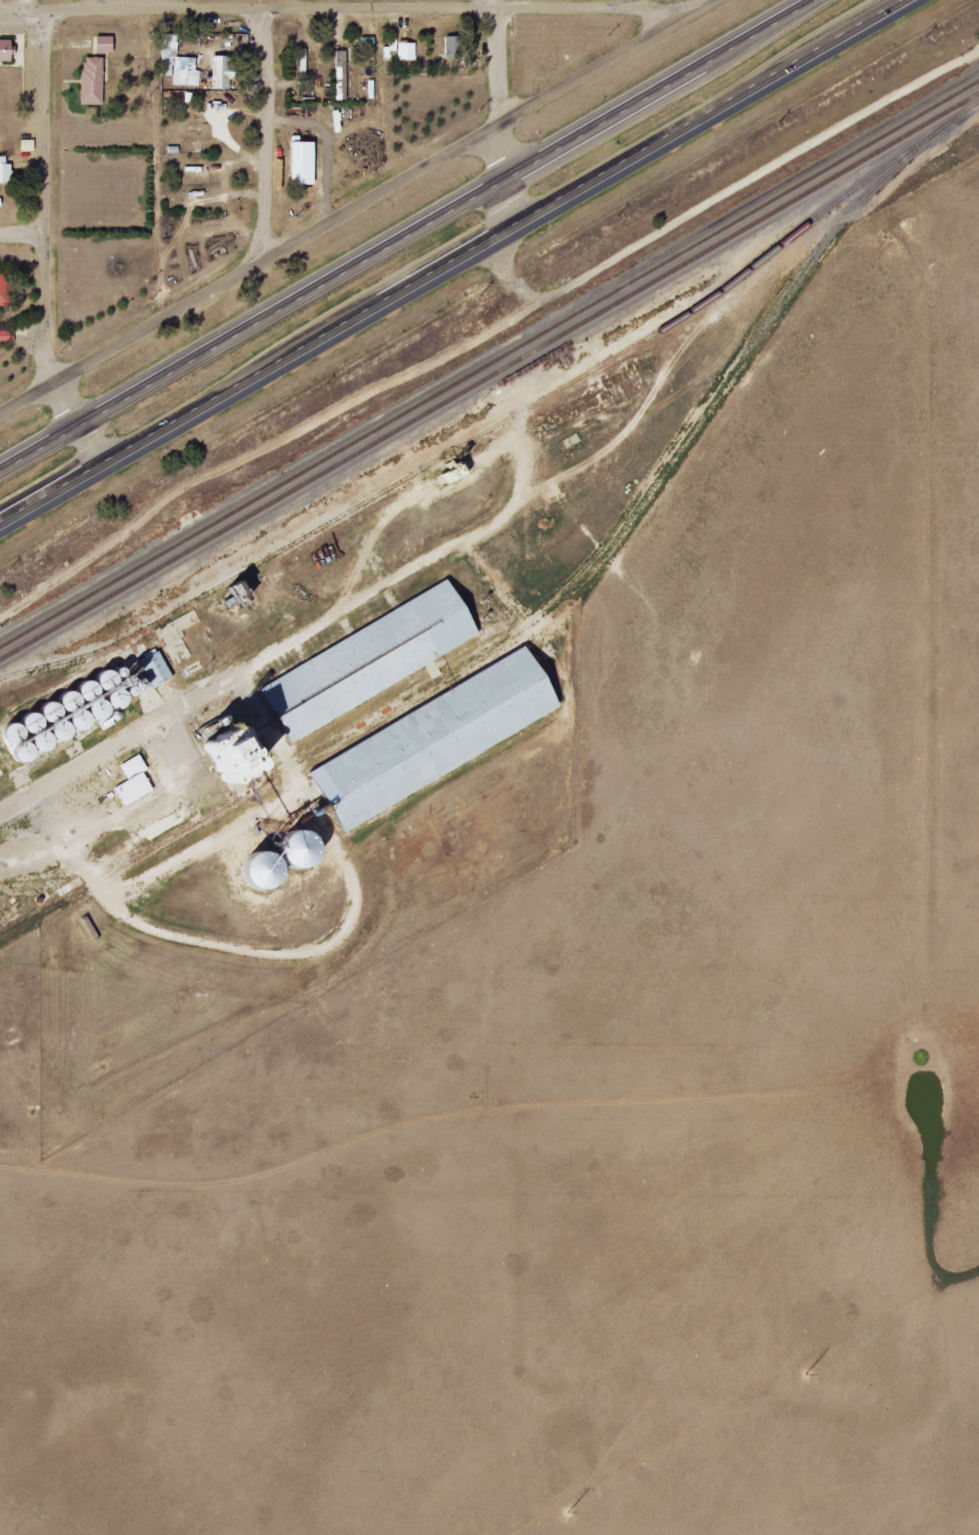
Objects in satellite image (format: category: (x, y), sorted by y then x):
road: (493, 1)
road: (573, 1)
road: (378, 3)
road: (131, 5)
building: (101, 44)
building: (390, 47)
building: (4, 50)
building: (405, 50)
road: (496, 62)
building: (178, 63)
building: (220, 72)
building: (340, 75)
building: (90, 80)
road: (262, 130)
building: (26, 145)
building: (298, 163)
building: (3, 170)
road: (501, 176)
road: (728, 192)
road: (352, 204)
railway: (808, 221)
road: (405, 234)
road: (23, 237)
road: (45, 240)
road: (453, 265)
building: (4, 288)
building: (5, 336)
railway: (489, 362)
railway: (489, 376)
railway: (344, 514)
railway: (560, 599)
building: (422, 747)
building: (131, 781)
power tower: (862, 1335)
power tower: (593, 1491)

